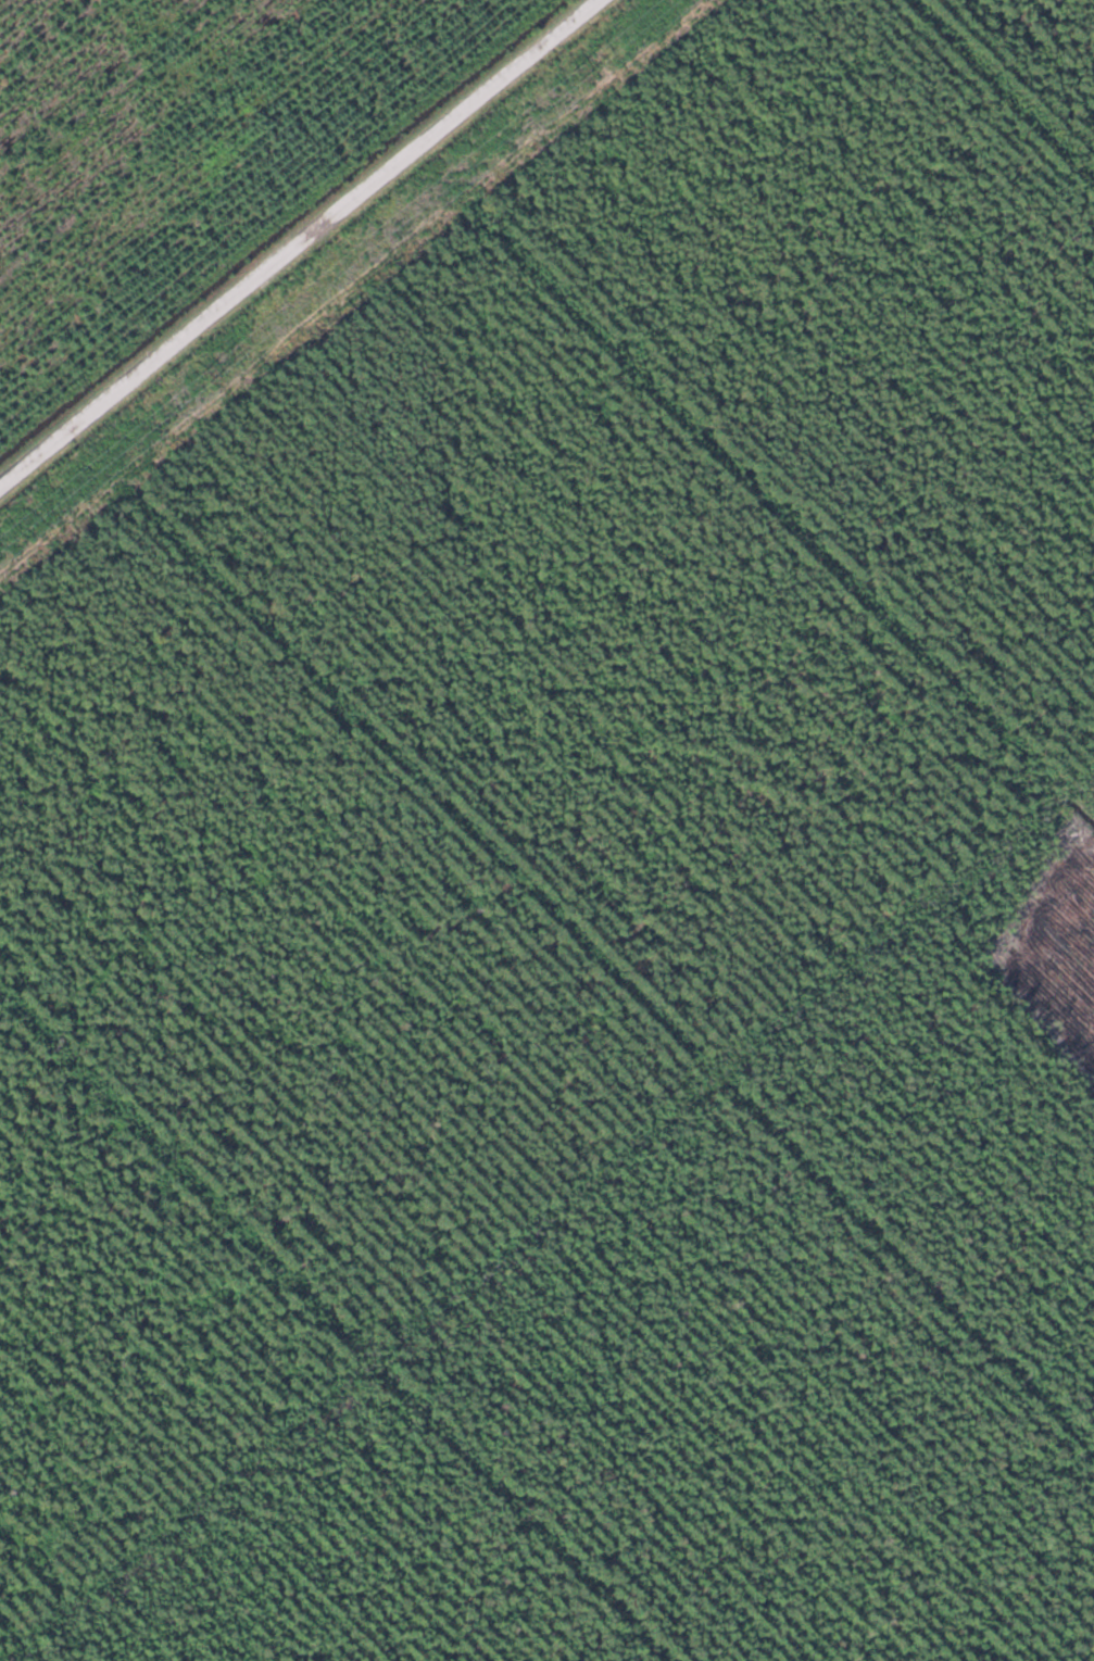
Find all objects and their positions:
power tower: (583, 75)
road: (300, 241)
power tower: (215, 377)

